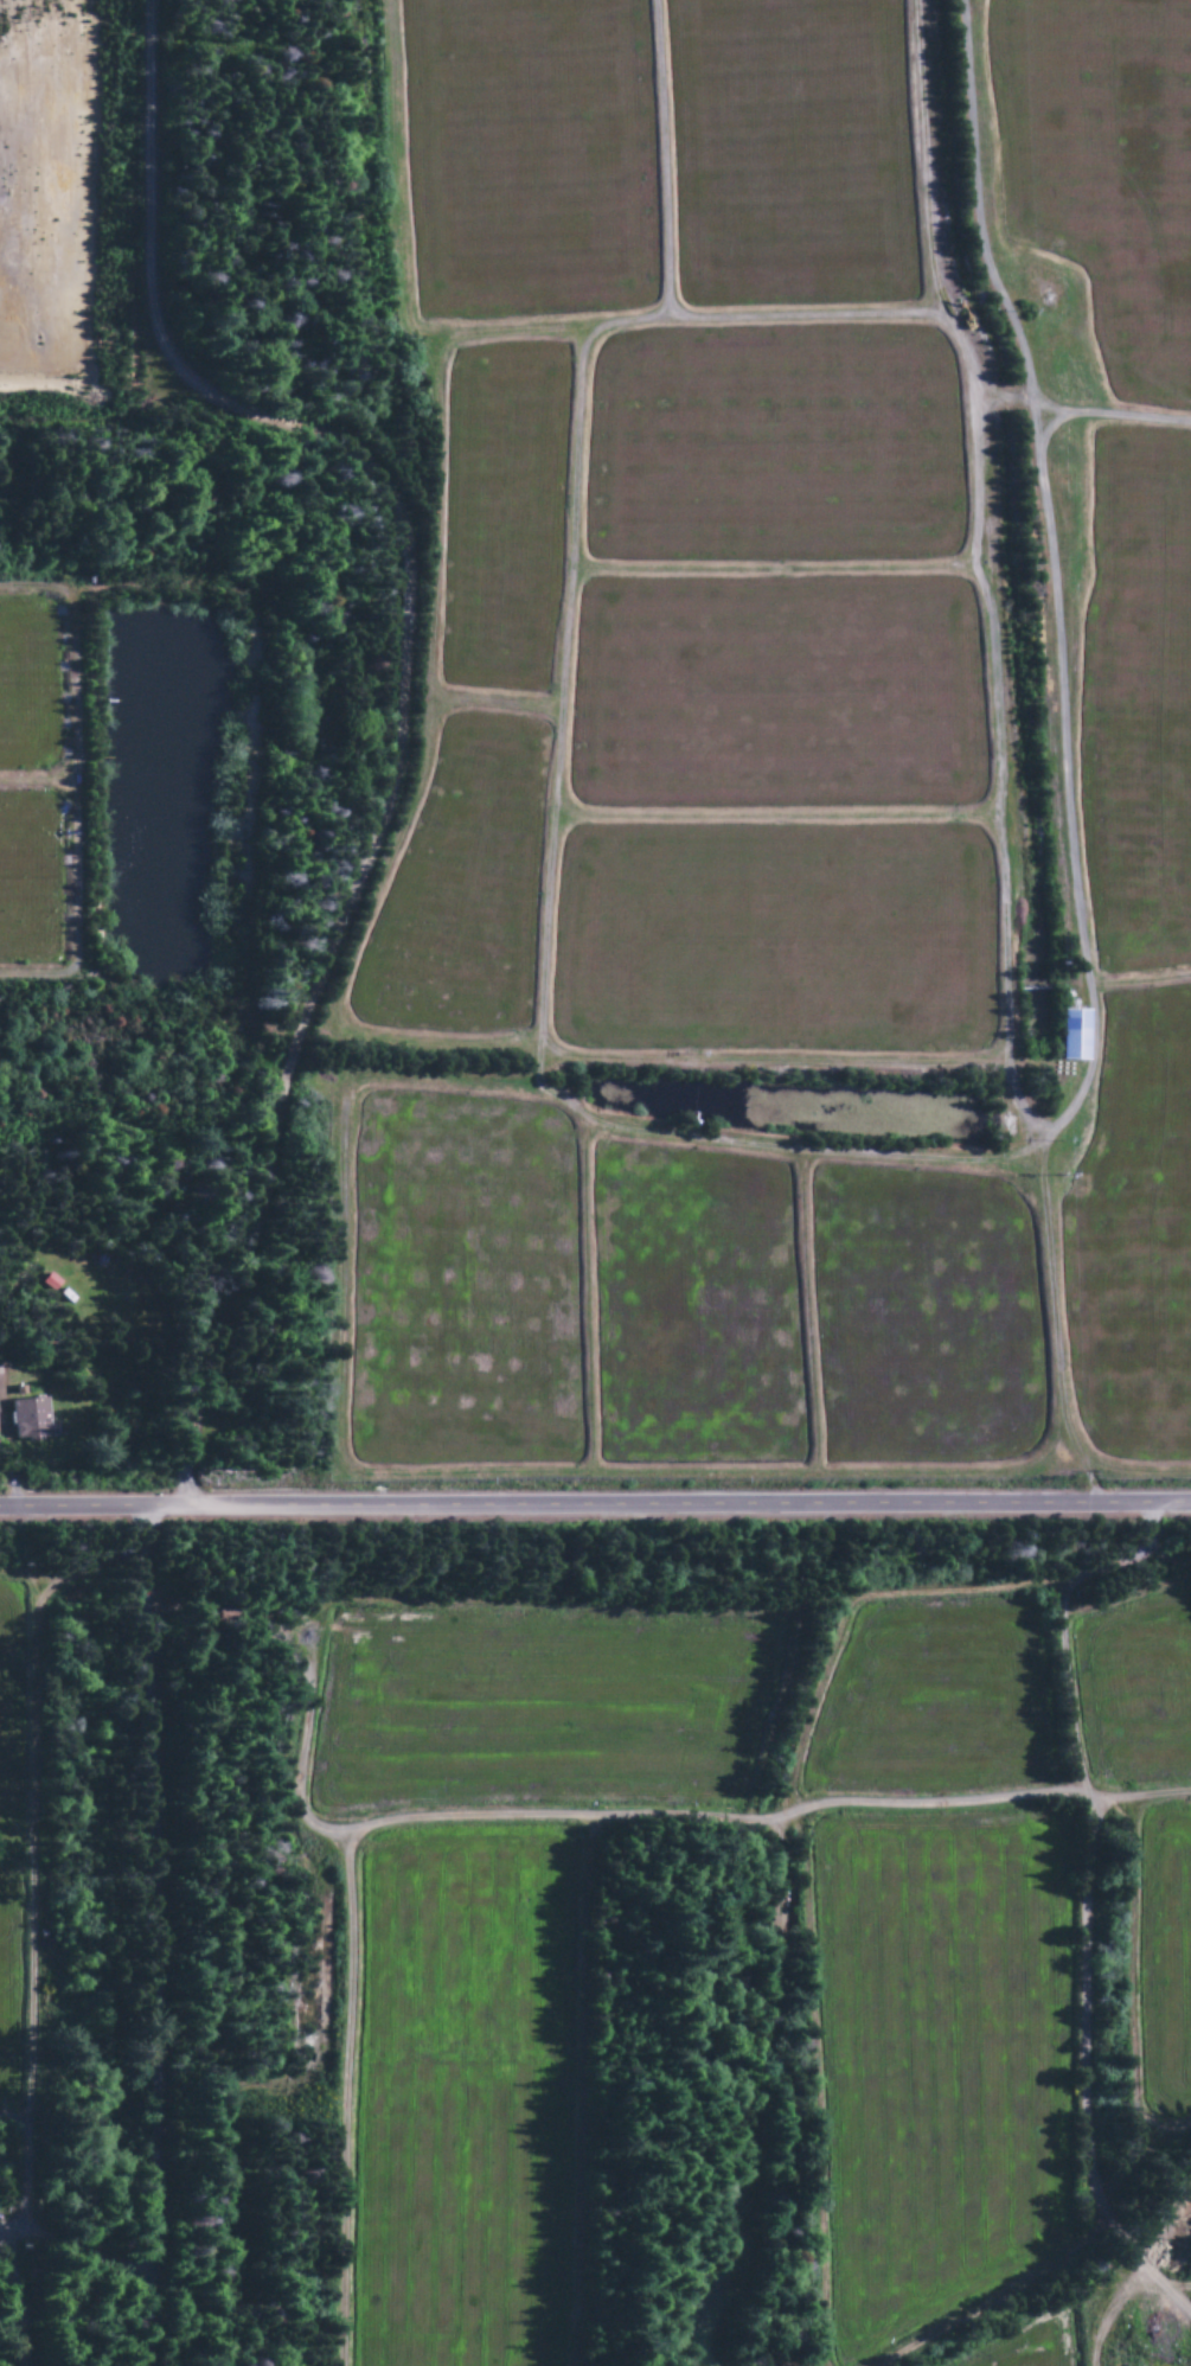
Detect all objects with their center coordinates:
crop: (786, 151)
crop: (524, 155)
crop: (1102, 172)
road: (1109, 416)
crop: (771, 449)
crop: (502, 516)
crop: (26, 688)
road: (398, 695)
crop: (776, 695)
crop: (1136, 704)
road: (1062, 755)
crop: (31, 882)
crop: (461, 893)
crop: (774, 939)
building: (1070, 1036)
crop: (1134, 1233)
crop: (462, 1285)
crop: (691, 1313)
crop: (922, 1319)
building: (26, 1420)
road: (595, 1503)
crop: (1134, 1693)
crop: (9, 1701)
crop: (934, 1702)
crop: (537, 1710)
road: (160, 1935)
crop: (1165, 1961)
crop: (7, 1985)
crop: (937, 2065)
crop: (462, 2099)
crop: (1027, 2346)

